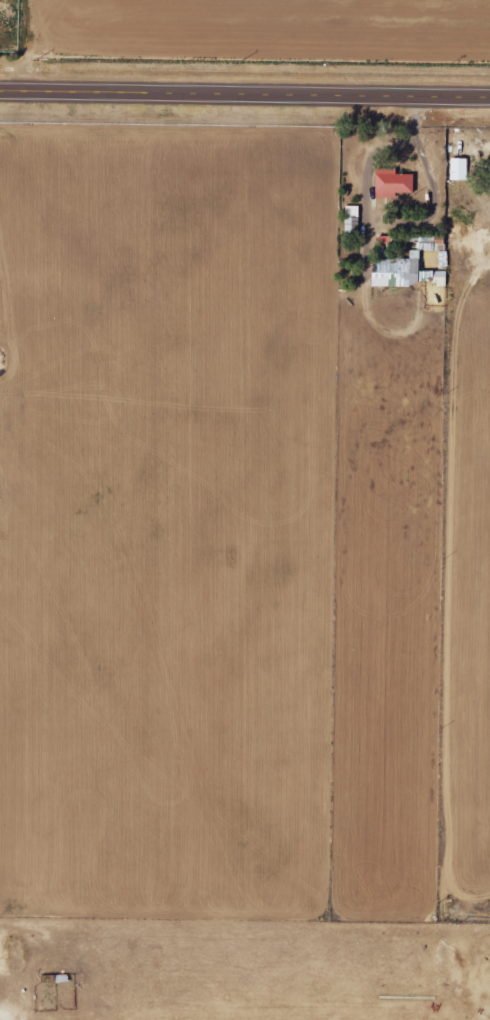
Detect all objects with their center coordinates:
road: (245, 97)
building: (462, 170)
building: (398, 184)
building: (355, 212)
building: (413, 269)

